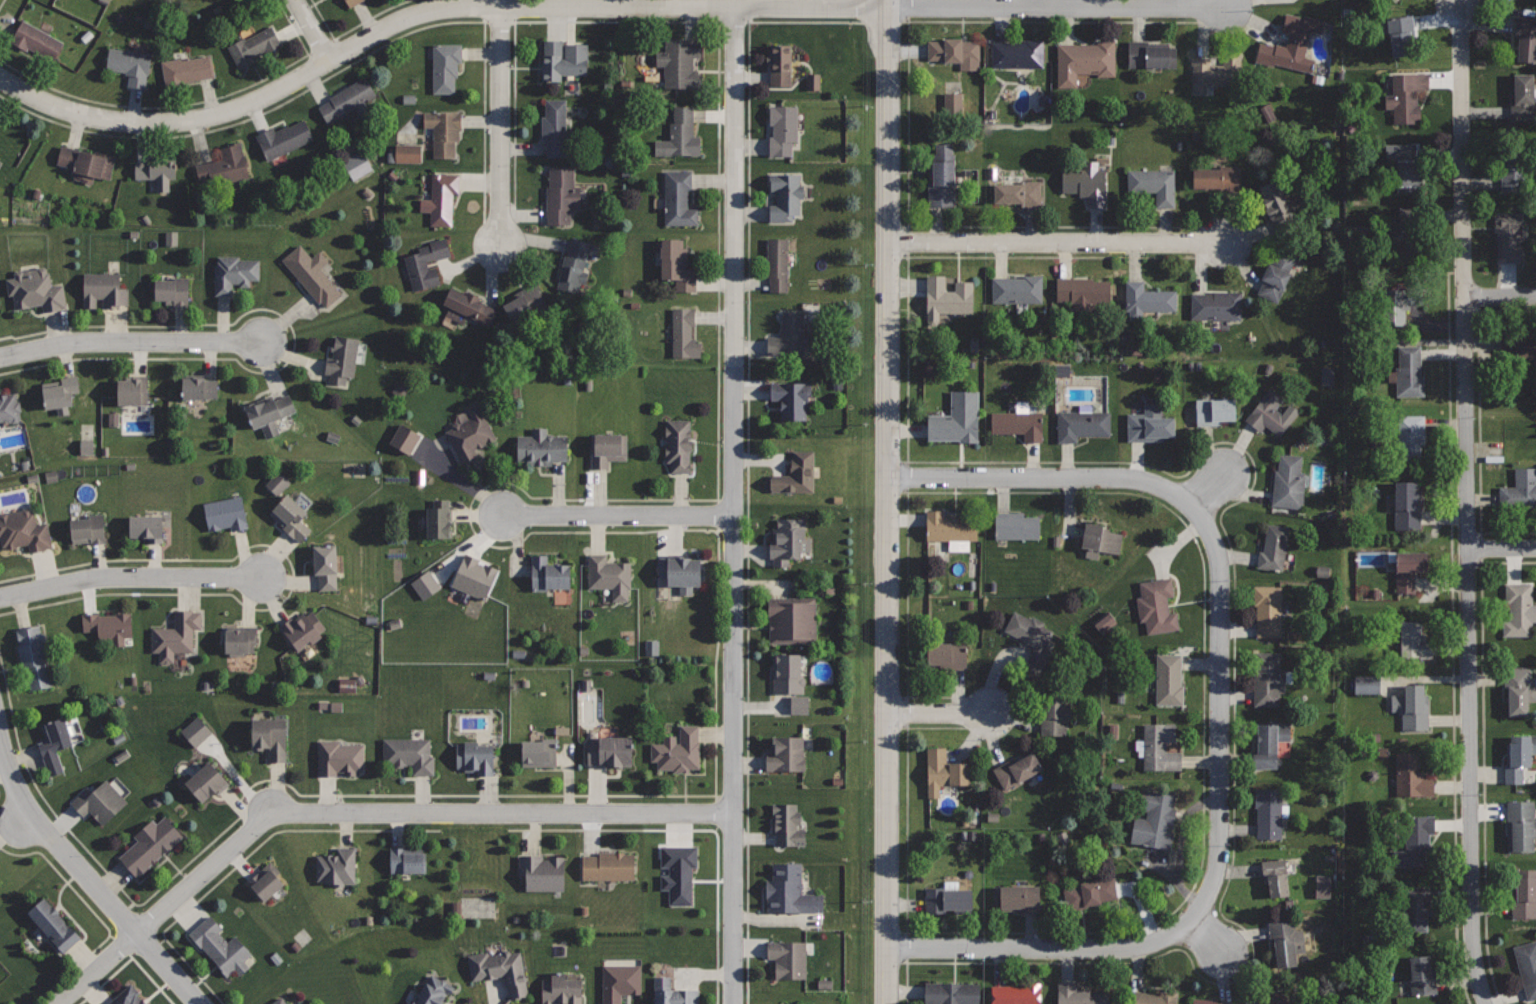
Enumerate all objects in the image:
building: (351, 2)
road: (1, 3)
road: (594, 6)
road: (313, 29)
road: (350, 29)
building: (1400, 34)
building: (1526, 37)
building: (37, 40)
building: (1292, 45)
building: (254, 46)
building: (957, 51)
building: (1017, 53)
building: (1151, 54)
building: (562, 58)
building: (680, 60)
building: (1084, 60)
building: (130, 64)
building: (780, 64)
building: (446, 66)
building: (187, 69)
building: (1216, 70)
road: (338, 71)
building: (1406, 95)
building: (1523, 97)
building: (348, 99)
road: (185, 104)
building: (950, 105)
road: (502, 122)
road: (907, 126)
building: (555, 127)
building: (782, 130)
building: (443, 131)
building: (680, 136)
building: (284, 139)
building: (405, 153)
building: (87, 163)
building: (225, 165)
building: (354, 166)
building: (1402, 167)
building: (157, 170)
building: (942, 176)
building: (1218, 177)
building: (1515, 179)
building: (1086, 182)
building: (1154, 184)
building: (1019, 192)
building: (786, 194)
building: (561, 195)
building: (440, 198)
building: (679, 198)
building: (1276, 204)
building: (1423, 228)
building: (1509, 235)
building: (170, 238)
road: (1055, 242)
building: (777, 262)
building: (426, 263)
building: (575, 264)
building: (677, 264)
building: (233, 273)
building: (312, 274)
building: (1277, 274)
building: (1017, 288)
building: (35, 289)
building: (104, 289)
building: (174, 290)
building: (1084, 293)
road: (1500, 297)
building: (946, 298)
building: (1148, 299)
building: (526, 303)
building: (1216, 305)
building: (468, 306)
building: (1394, 306)
building: (684, 333)
building: (789, 338)
road: (130, 341)
road: (293, 341)
building: (1516, 346)
building: (342, 359)
building: (1406, 370)
building: (1325, 375)
building: (199, 386)
building: (133, 390)
building: (60, 393)
building: (792, 399)
building: (9, 408)
building: (1215, 410)
building: (269, 412)
building: (1271, 413)
building: (956, 418)
building: (111, 419)
road: (1479, 420)
building: (1149, 423)
building: (1018, 424)
building: (1081, 424)
building: (470, 433)
building: (1407, 435)
building: (401, 438)
building: (678, 443)
building: (84, 446)
building: (541, 447)
building: (608, 449)
road: (747, 456)
road: (717, 463)
building: (795, 474)
road: (1019, 476)
building: (1288, 482)
building: (1519, 489)
road: (1207, 491)
road: (1239, 500)
road: (884, 502)
road: (1467, 502)
road: (734, 505)
building: (1405, 506)
building: (225, 514)
road: (619, 514)
building: (291, 517)
building: (438, 518)
building: (1016, 525)
building: (948, 526)
building: (147, 527)
building: (88, 529)
building: (24, 531)
building: (1100, 538)
building: (788, 539)
building: (1273, 548)
road: (1502, 548)
building: (325, 565)
building: (1408, 570)
building: (681, 571)
building: (548, 573)
building: (611, 574)
road: (130, 577)
road: (292, 577)
building: (475, 577)
building: (422, 584)
building: (1157, 604)
building: (1266, 608)
building: (1520, 609)
building: (792, 619)
building: (109, 624)
building: (1102, 624)
building: (303, 629)
building: (176, 634)
road: (1451, 638)
building: (240, 639)
building: (1031, 640)
building: (1413, 642)
building: (649, 647)
building: (946, 653)
building: (34, 656)
road: (1220, 666)
building: (785, 672)
building: (1168, 678)
building: (1268, 678)
building: (1363, 684)
building: (1518, 691)
building: (795, 705)
building: (1411, 707)
road: (937, 712)
building: (1052, 713)
road: (1202, 713)
building: (193, 732)
building: (270, 737)
building: (55, 744)
building: (1160, 745)
building: (1270, 745)
building: (677, 749)
building: (609, 750)
building: (539, 752)
building: (785, 753)
building: (409, 754)
road: (1482, 756)
building: (1519, 756)
building: (339, 757)
building: (476, 757)
building: (1017, 769)
building: (944, 771)
building: (1412, 775)
building: (206, 781)
road: (253, 784)
building: (99, 801)
building: (1268, 811)
road: (359, 812)
building: (1156, 820)
building: (787, 823)
building: (1521, 826)
road: (459, 829)
building: (1414, 841)
building: (150, 845)
building: (407, 859)
building: (608, 865)
building: (337, 866)
building: (543, 871)
building: (676, 873)
building: (1275, 877)
road: (88, 879)
building: (266, 880)
building: (1319, 886)
building: (790, 889)
building: (1090, 892)
building: (1523, 893)
building: (949, 899)
building: (1017, 899)
building: (1418, 907)
road: (95, 915)
building: (54, 924)
road: (1206, 935)
building: (1286, 941)
building: (220, 947)
road: (1063, 948)
building: (788, 958)
road: (128, 960)
building: (1527, 966)
building: (501, 970)
building: (1421, 974)
building: (620, 982)
building: (560, 990)
building: (434, 991)
building: (674, 993)
building: (951, 993)
building: (1016, 993)
building: (1079, 994)
building: (129, 996)
building: (1148, 996)
building: (1276, 999)
building: (1204, 1000)
building: (280, 1001)
building: (794, 1003)

